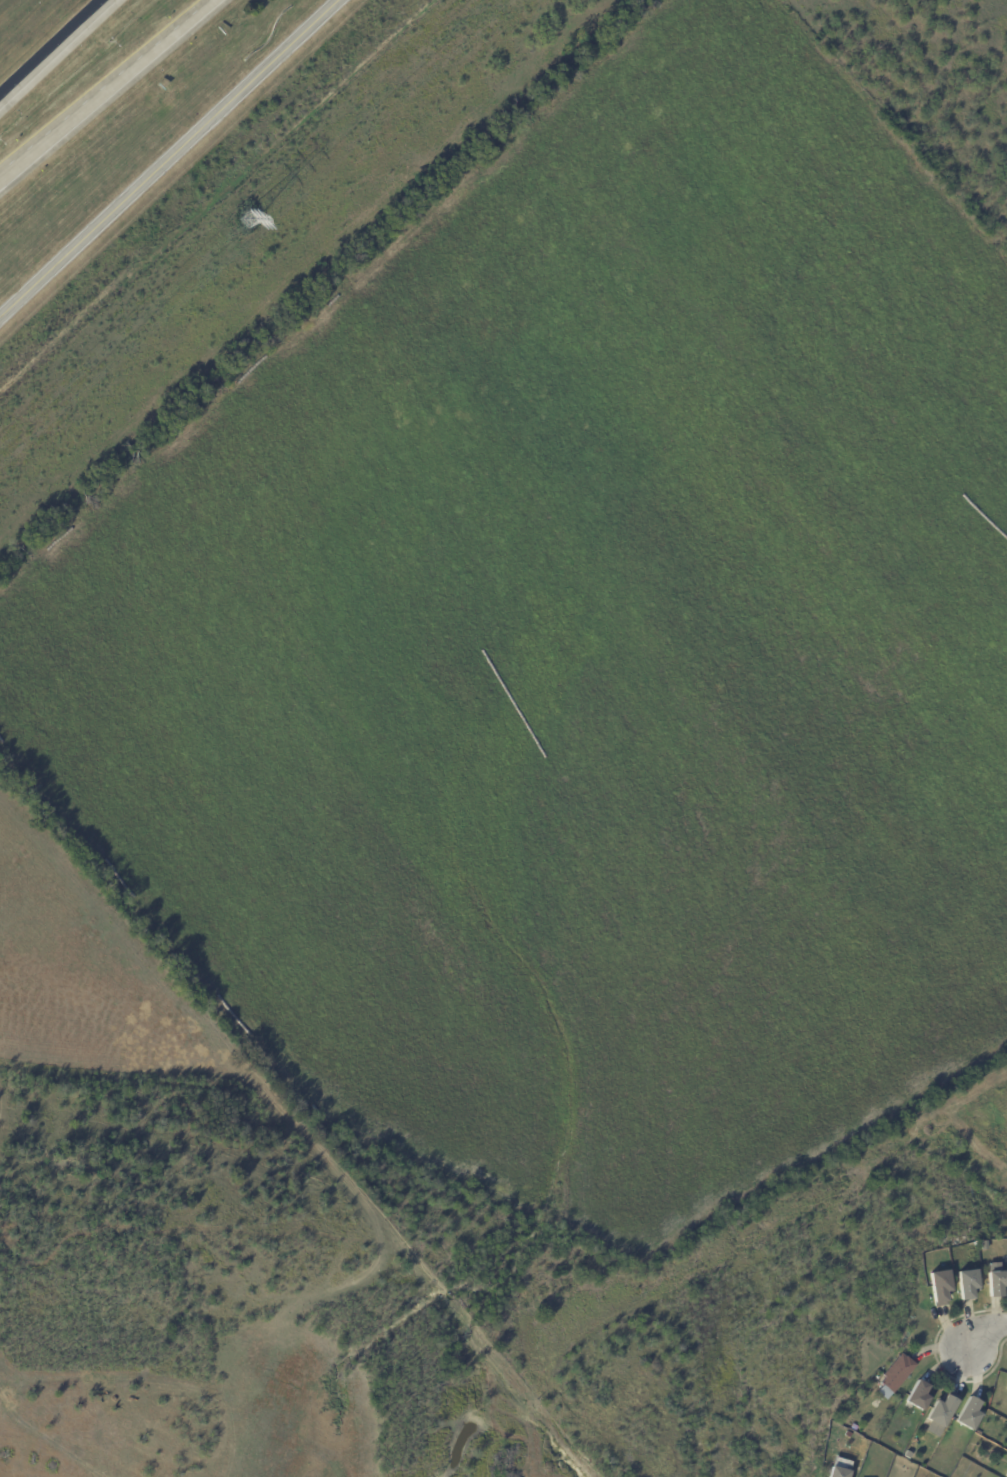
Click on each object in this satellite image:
road: (53, 50)
road: (105, 90)
road: (167, 154)
power tower: (248, 221)
building: (984, 1246)
building: (997, 1280)
building: (969, 1283)
building: (941, 1287)
road: (979, 1327)
building: (897, 1376)
building: (1006, 1387)
building: (919, 1395)
building: (941, 1413)
building: (970, 1413)
building: (854, 1427)
building: (848, 1435)
building: (840, 1473)
building: (1006, 1475)

